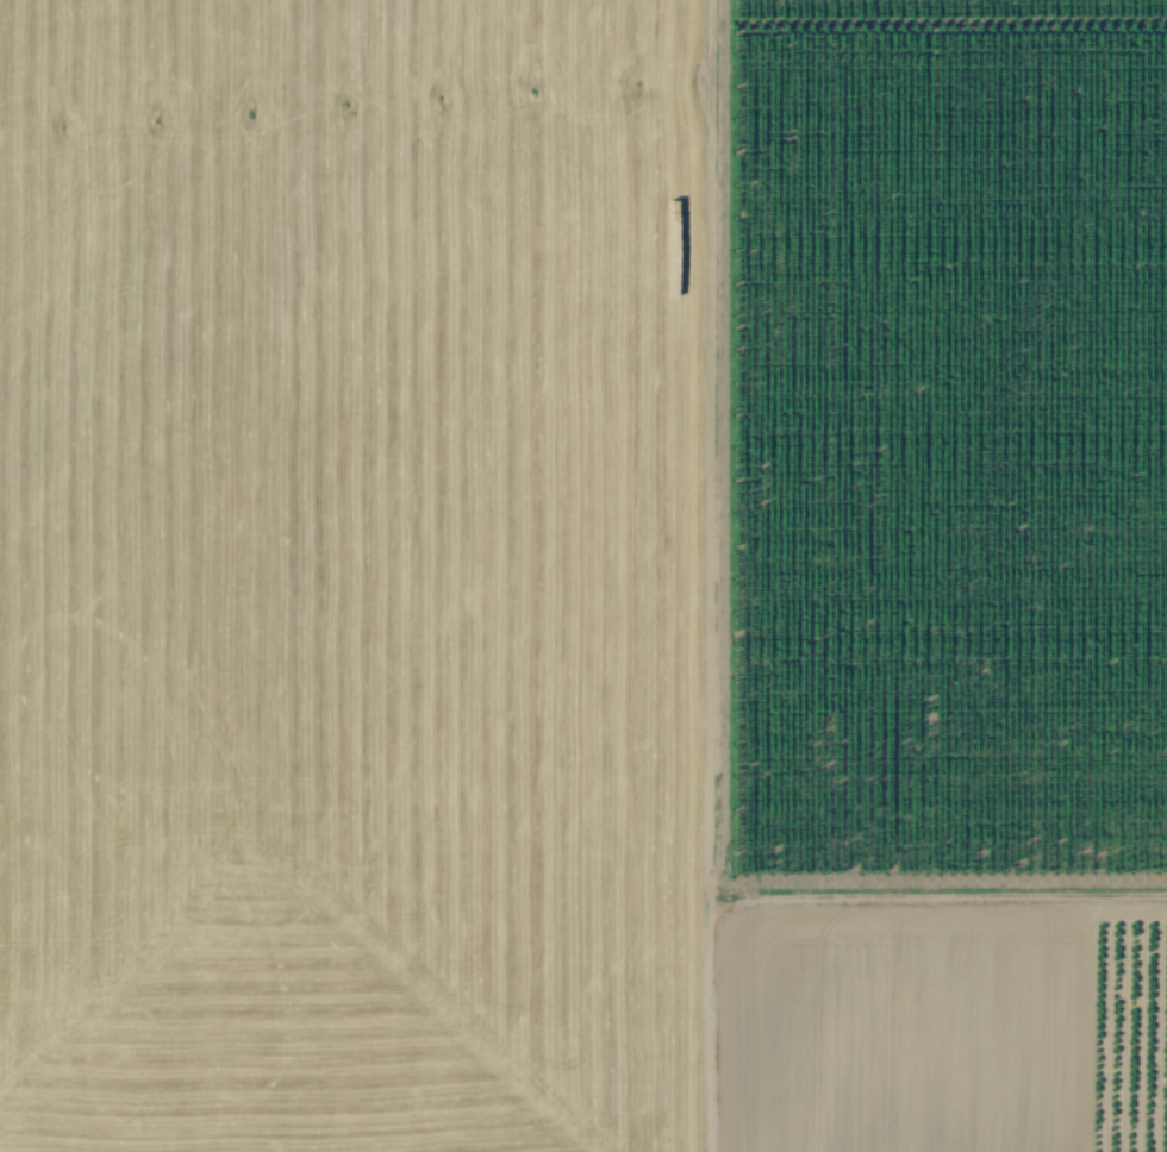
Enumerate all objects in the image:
crop: (424, 628)

